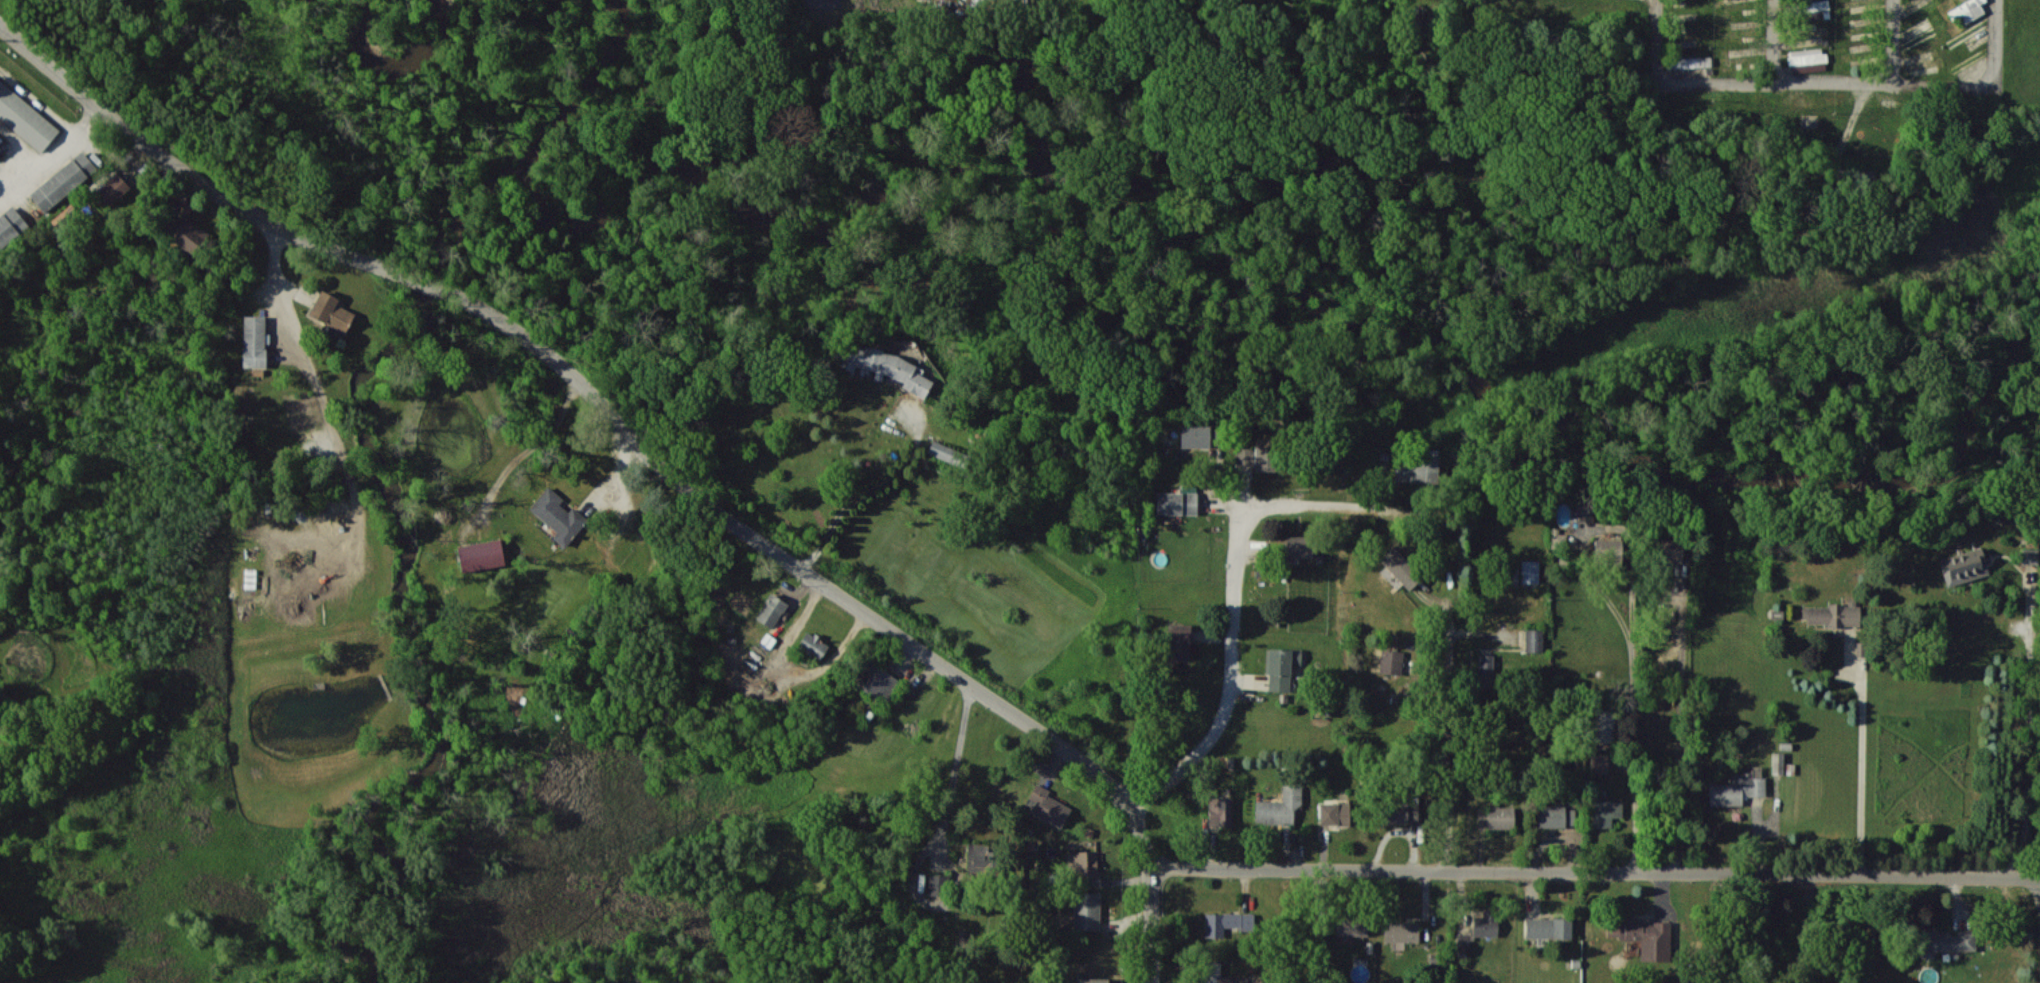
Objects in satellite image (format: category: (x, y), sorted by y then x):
building: (1967, 10)
road: (1776, 43)
road: (1894, 44)
building: (1807, 60)
building: (1689, 62)
road: (1829, 87)
building: (25, 118)
building: (63, 180)
building: (113, 189)
building: (10, 225)
building: (185, 233)
building: (331, 311)
road: (295, 326)
building: (254, 341)
building: (884, 366)
building: (1195, 435)
road: (529, 449)
road: (646, 451)
building: (943, 451)
building: (1257, 455)
building: (1416, 468)
road: (864, 492)
building: (1177, 503)
road: (1330, 503)
building: (1585, 512)
building: (557, 515)
building: (1299, 546)
building: (1607, 549)
building: (1667, 549)
building: (481, 555)
building: (2030, 556)
building: (1964, 566)
building: (1401, 567)
building: (1530, 571)
building: (771, 610)
building: (1833, 614)
road: (1632, 619)
building: (1534, 640)
building: (1179, 641)
building: (813, 645)
building: (1391, 661)
building: (1282, 667)
building: (1485, 671)
road: (1234, 678)
building: (879, 681)
building: (1604, 726)
road: (1683, 733)
road: (2030, 733)
road: (1450, 735)
building: (1600, 763)
building: (1778, 763)
road: (956, 765)
road: (1863, 770)
building: (1737, 790)
building: (1048, 806)
building: (1280, 806)
building: (1220, 811)
building: (1400, 811)
building: (1334, 812)
building: (1605, 812)
building: (1556, 816)
building: (1495, 817)
building: (978, 856)
building: (1084, 863)
road: (1599, 872)
building: (937, 884)
building: (1087, 910)
building: (1227, 921)
building: (1486, 923)
building: (1352, 925)
building: (1548, 927)
building: (1402, 931)
building: (1645, 937)
building: (1463, 941)
building: (1945, 941)
building: (1215, 973)
building: (1091, 980)
building: (1689, 980)

